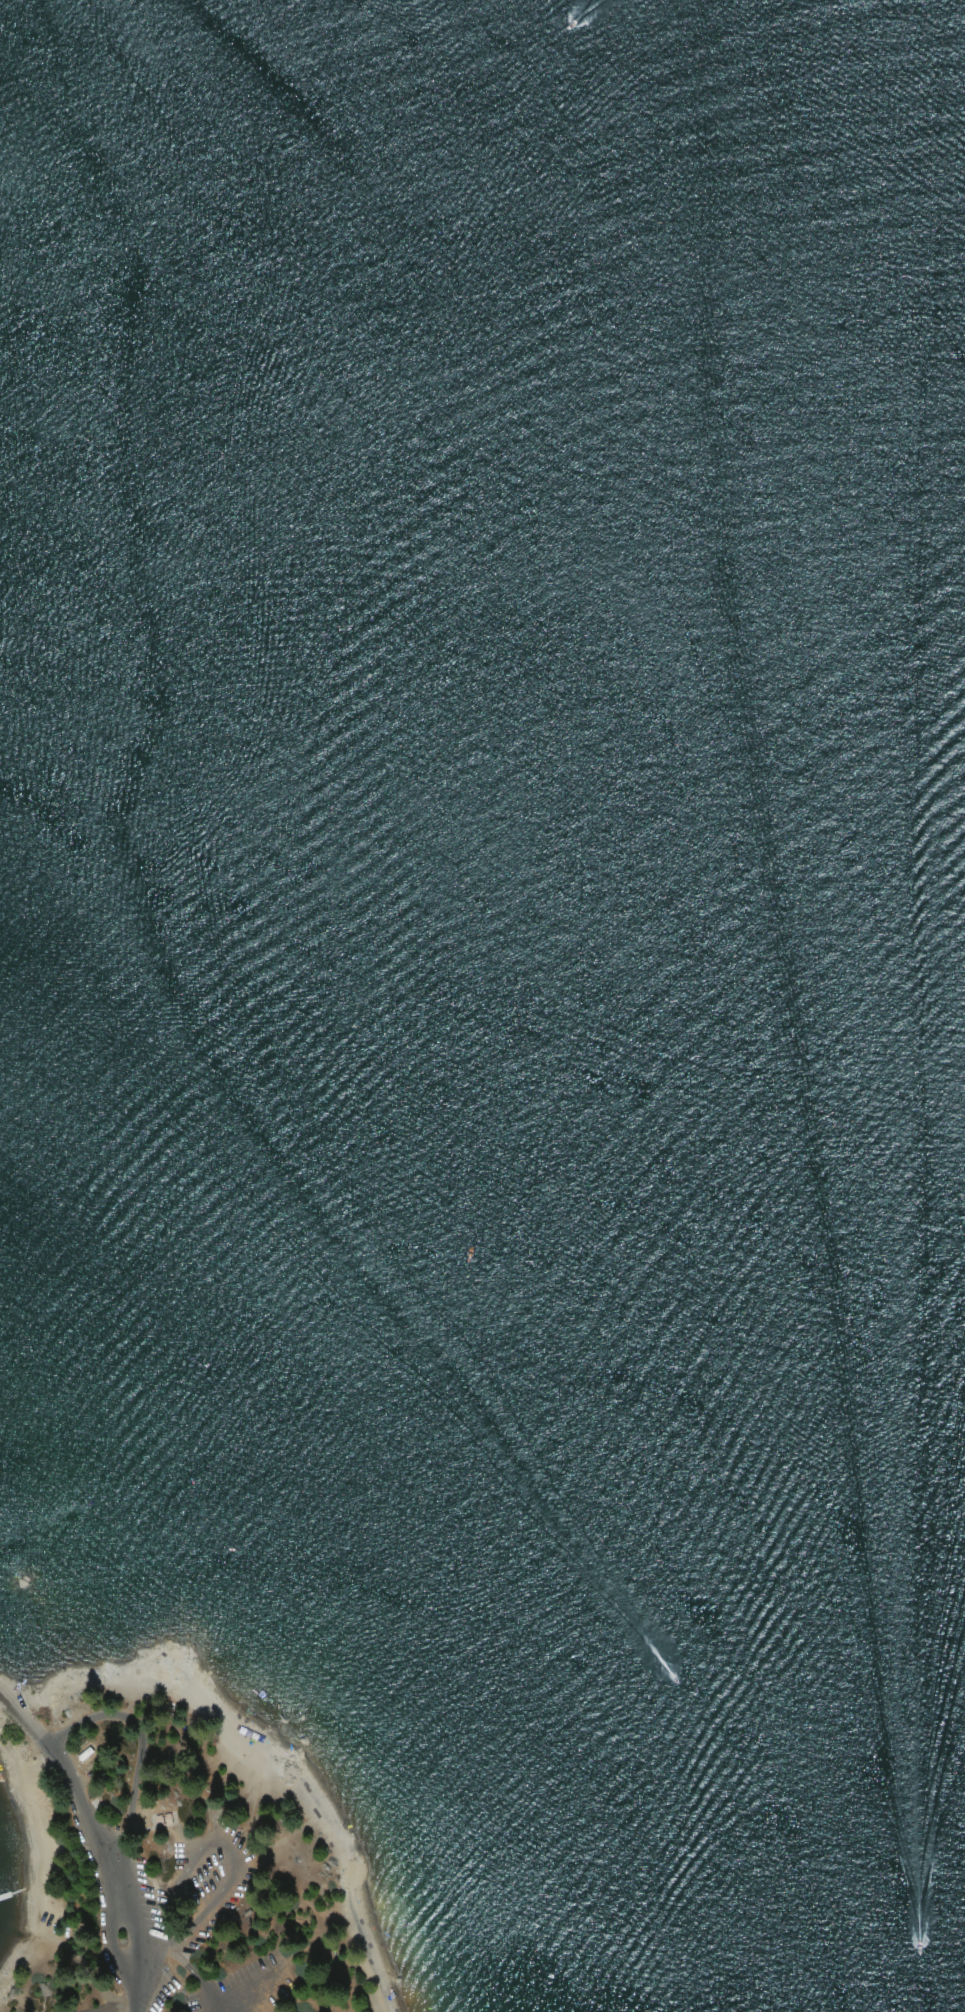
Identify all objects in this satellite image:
road: (9, 1710)
road: (129, 1751)
road: (200, 1846)
road: (94, 1861)
parking lot: (211, 1920)
road: (80, 1944)
road: (192, 1968)

